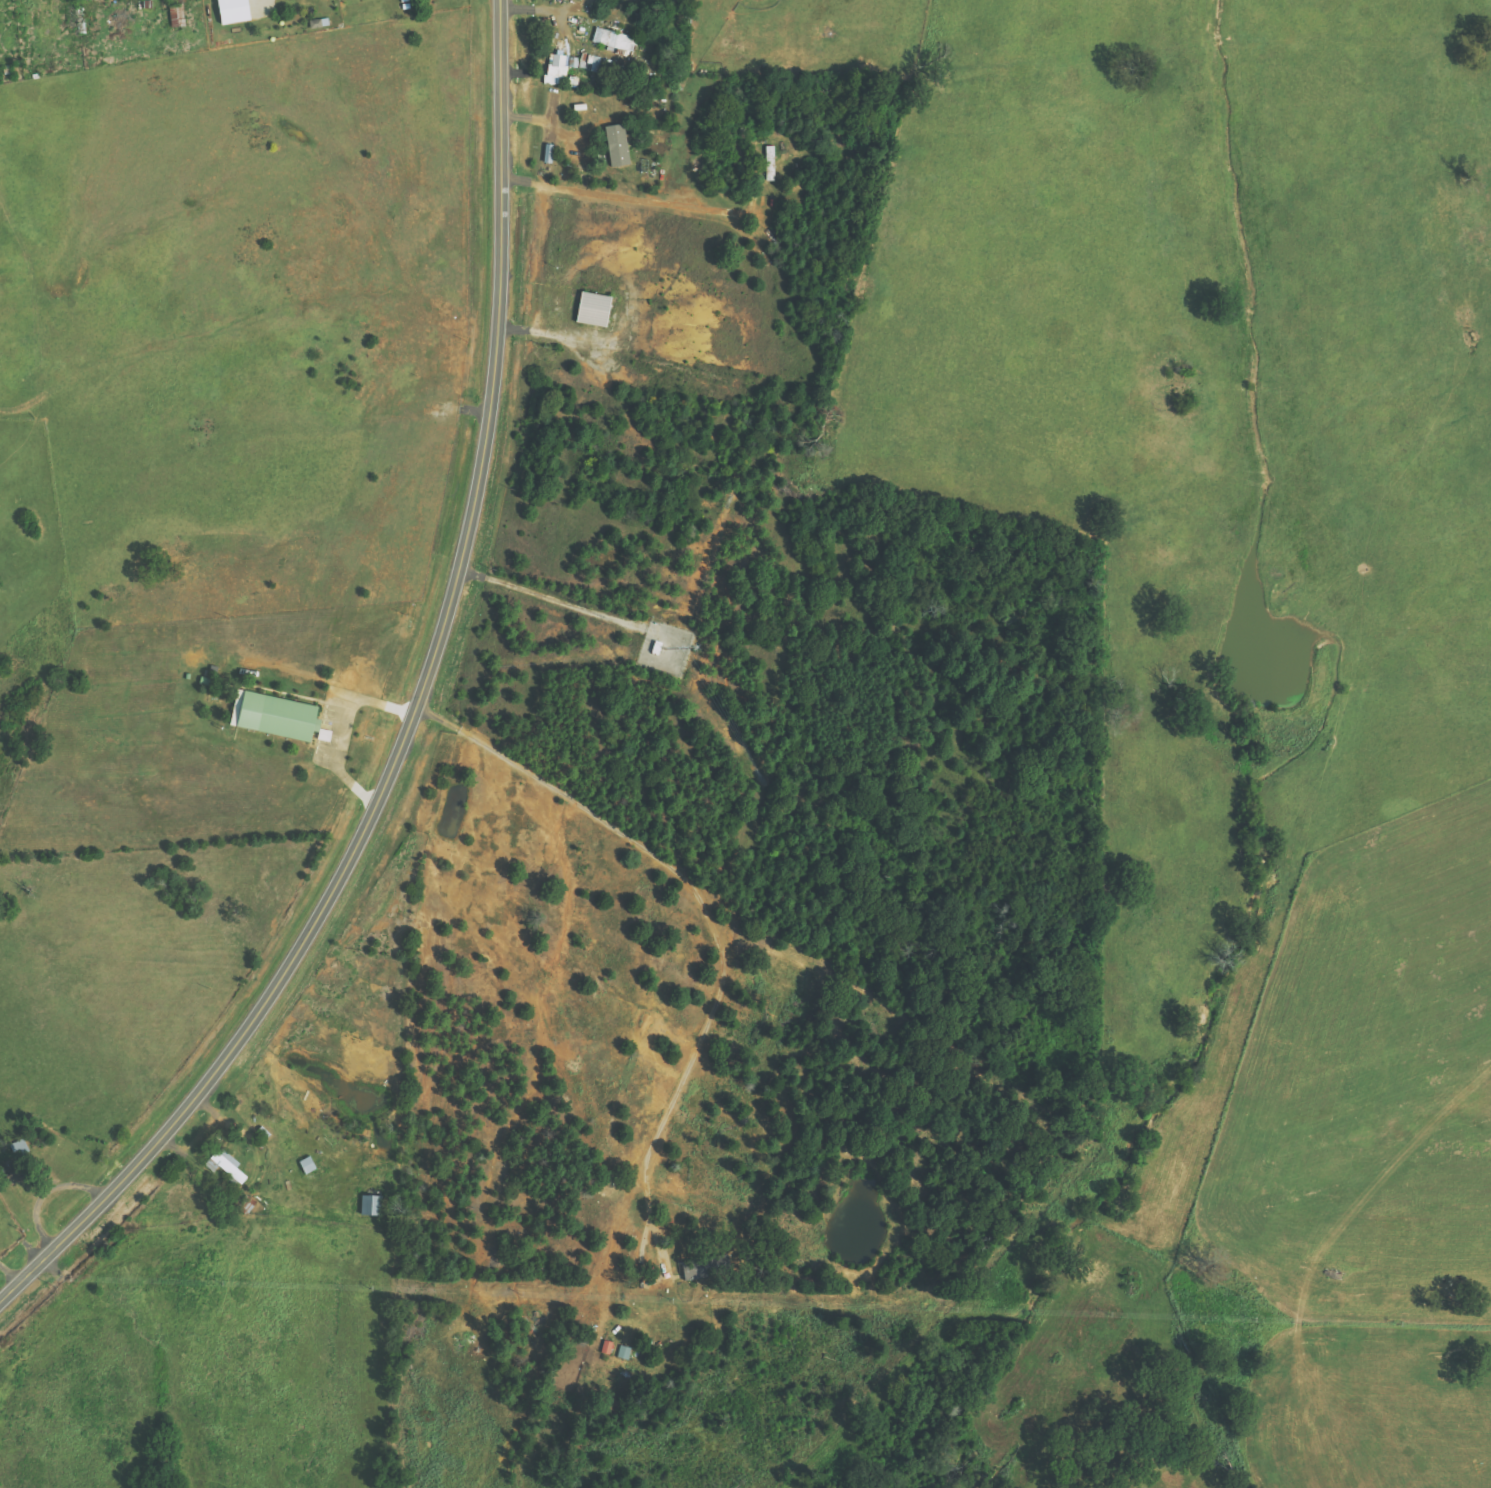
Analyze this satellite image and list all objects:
building: (81, 0)
building: (406, 0)
building: (233, 11)
building: (569, 65)
building: (616, 145)
building: (770, 163)
building: (593, 309)
road: (415, 715)
building: (276, 716)
road: (335, 727)
building: (226, 1165)
building: (307, 1165)
building: (370, 1205)
building: (705, 1267)
building: (606, 1347)

